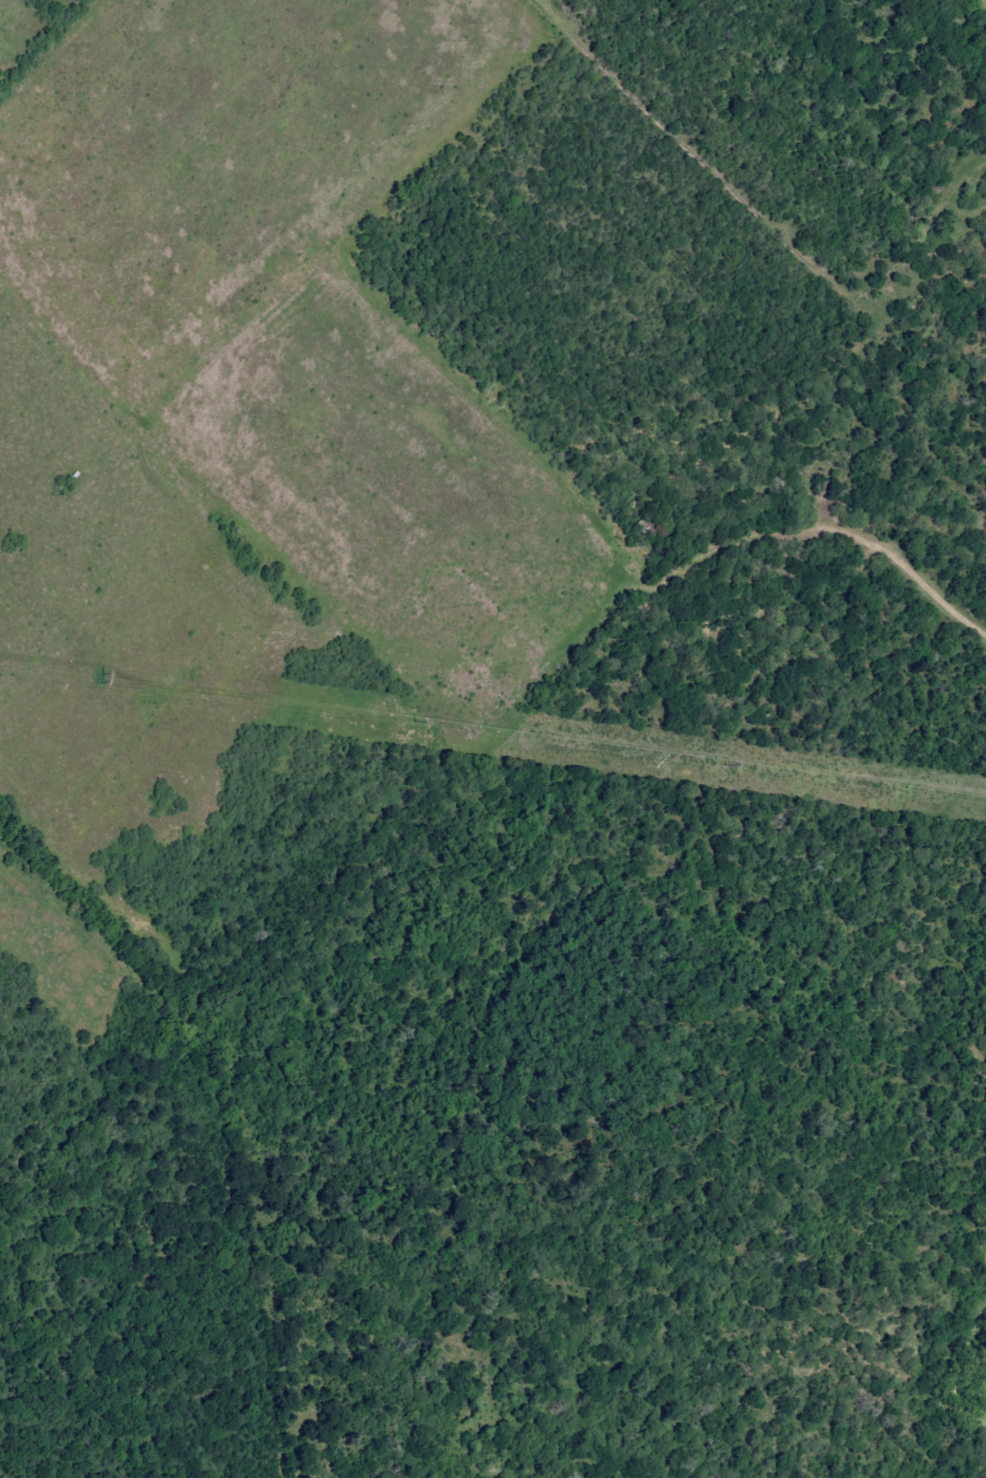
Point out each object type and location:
power tower: (92, 678)
power tower: (405, 721)
power tower: (714, 765)

